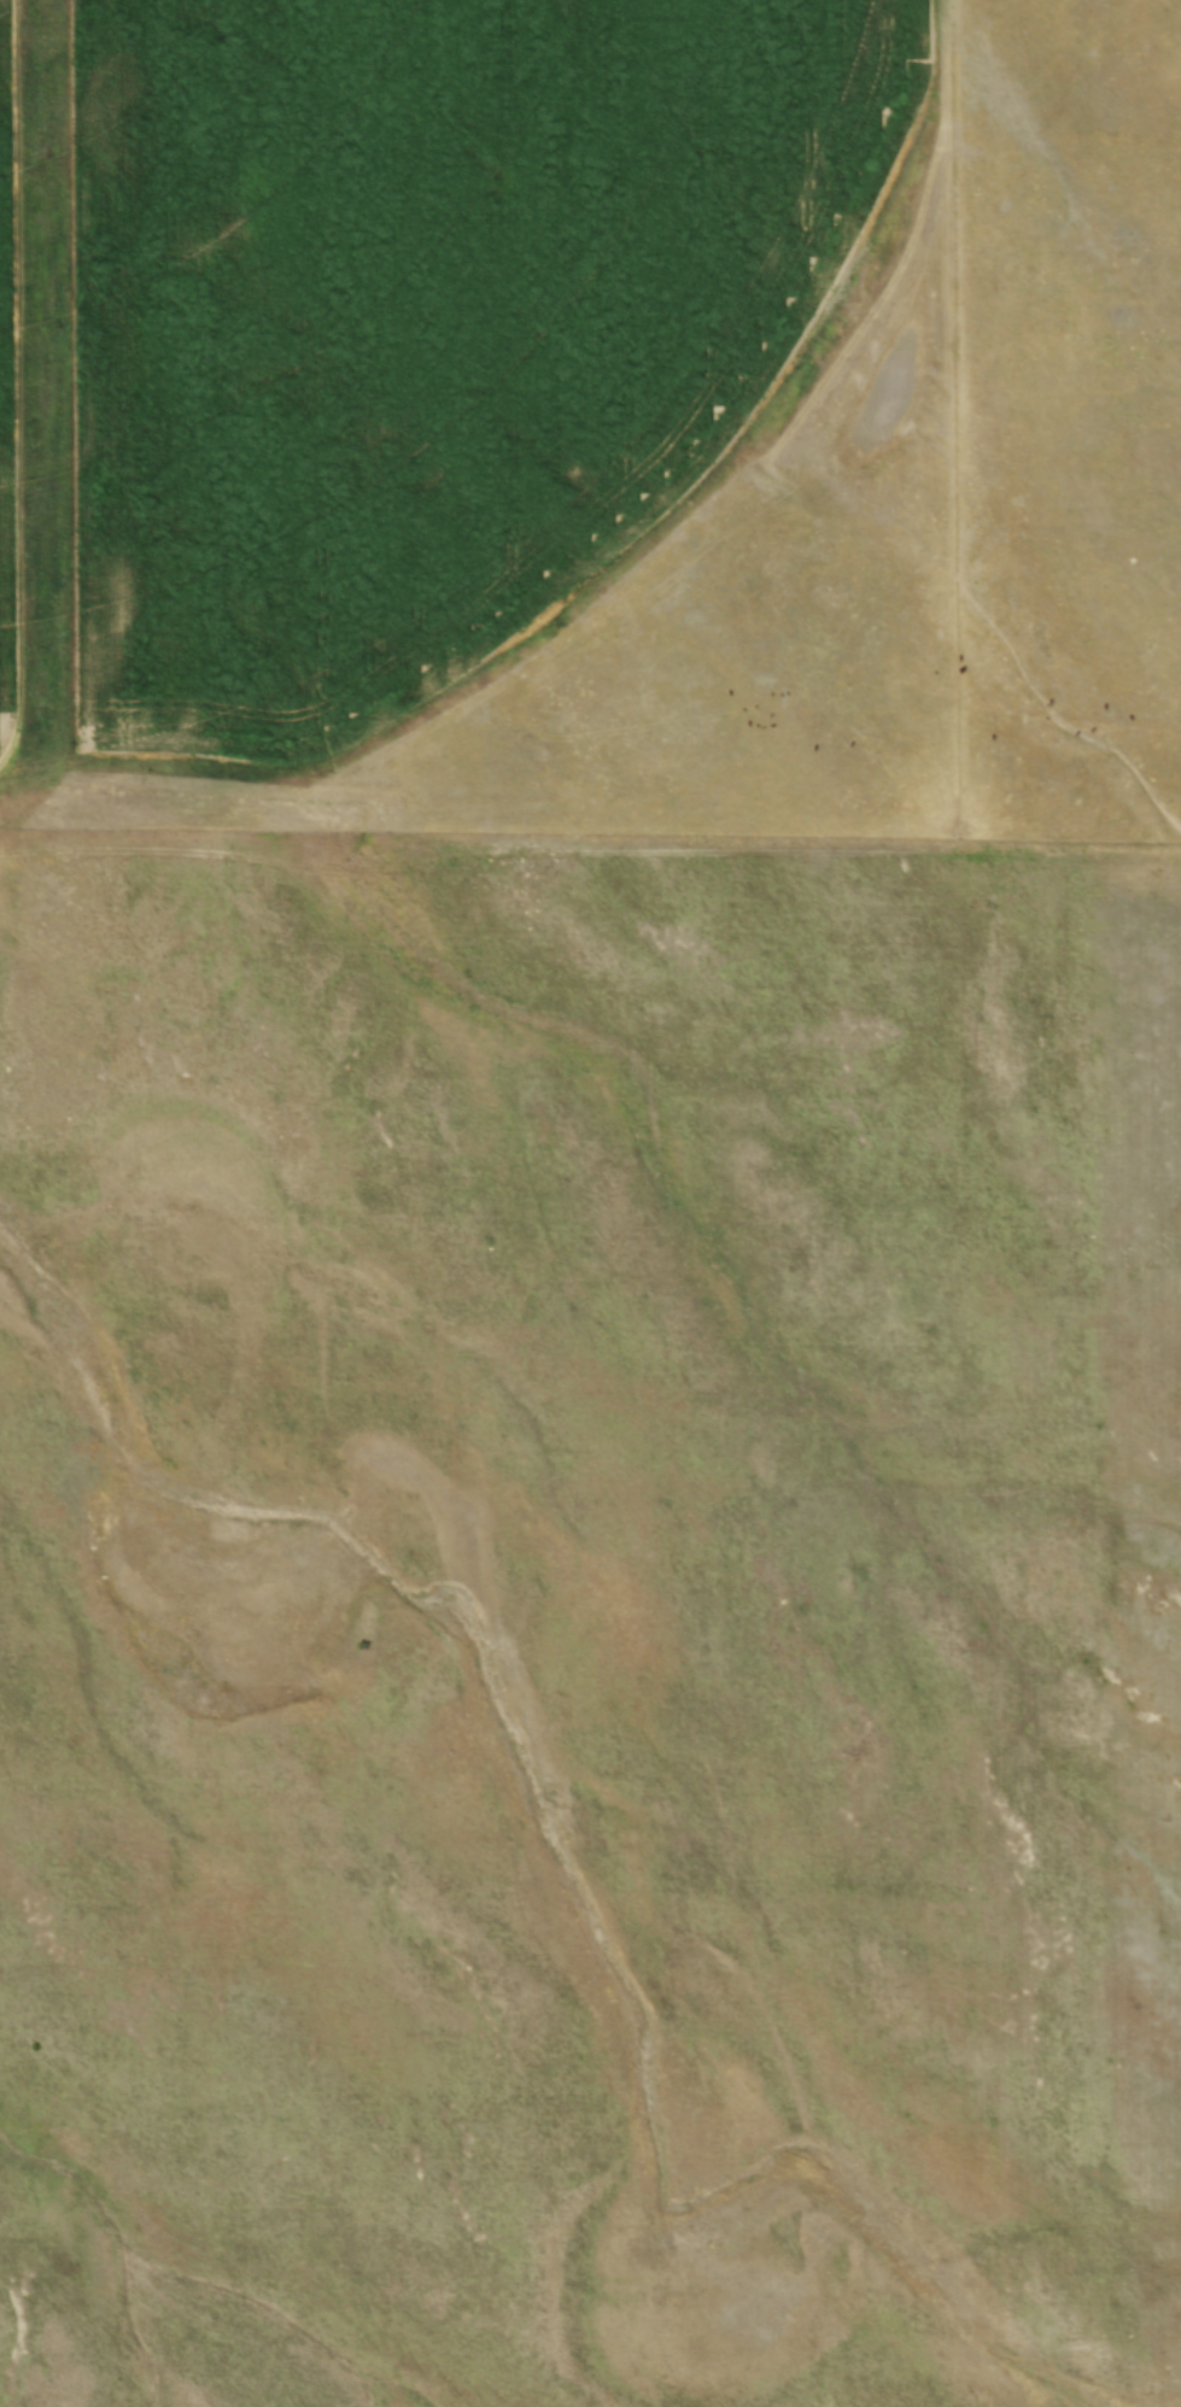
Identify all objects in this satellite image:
crop: (431, 322)
crop: (4, 373)

